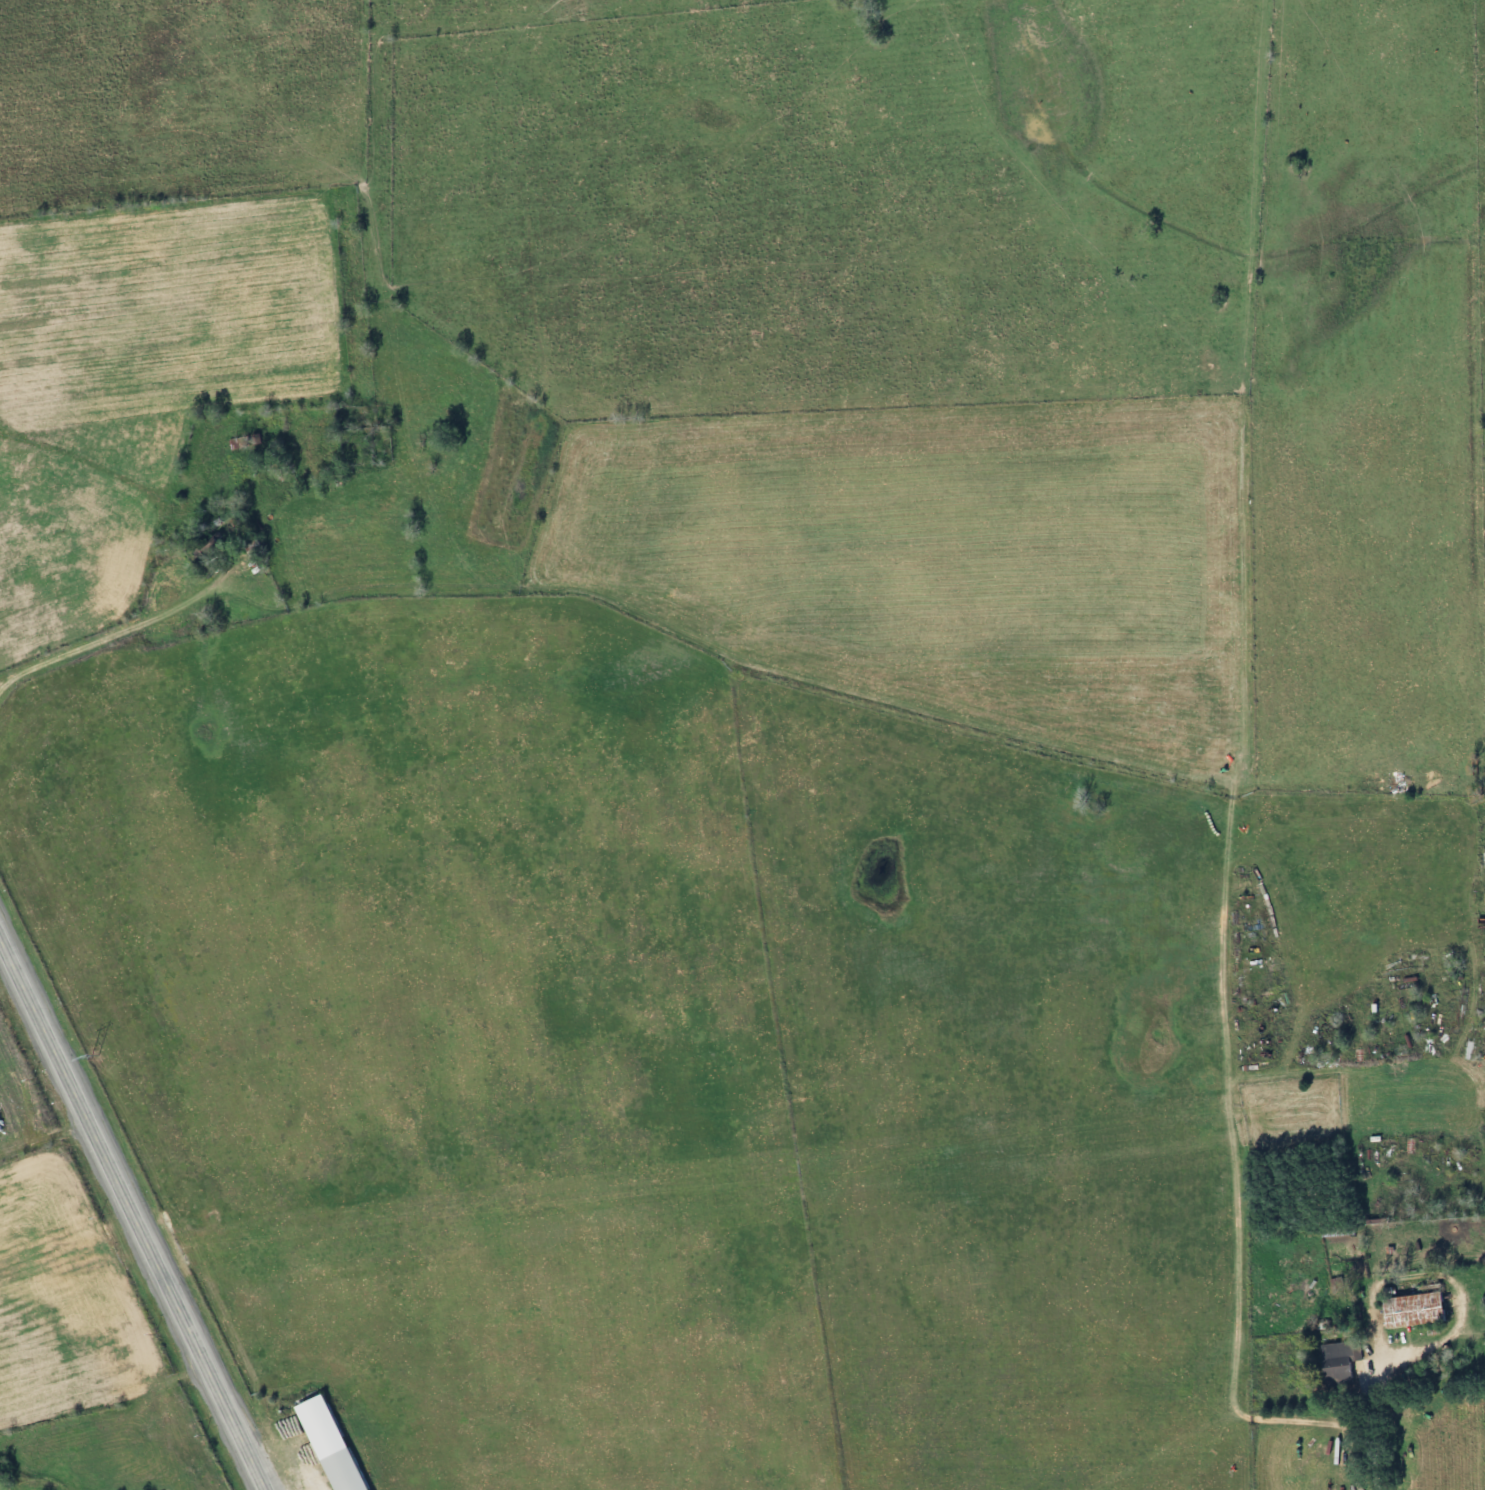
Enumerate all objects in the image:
building: (201, 548)
road: (1238, 726)
power tower: (93, 1055)
road: (133, 1214)
building: (1408, 1310)
building: (1334, 1362)
road: (1319, 1419)
road: (1365, 1433)
building: (326, 1443)

